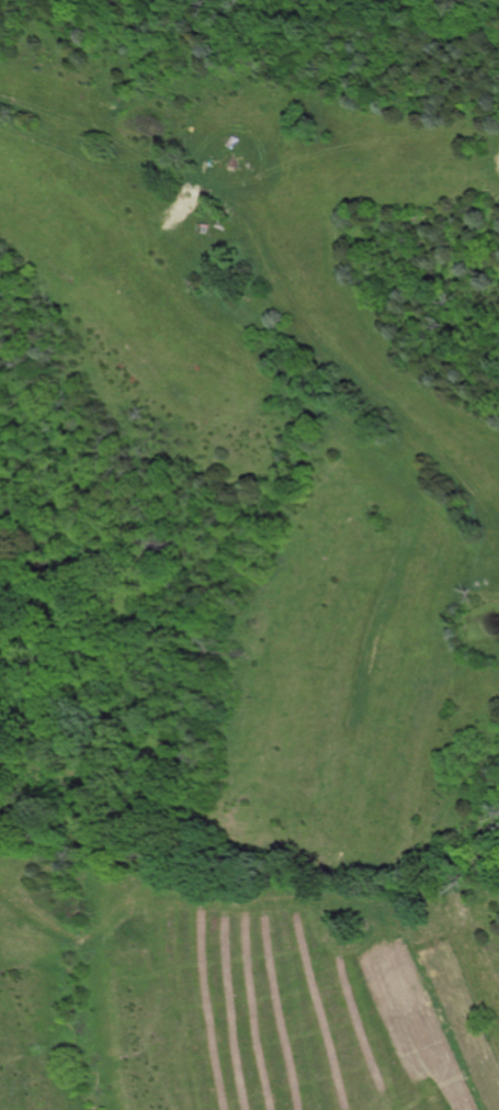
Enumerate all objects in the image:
road: (230, 306)

